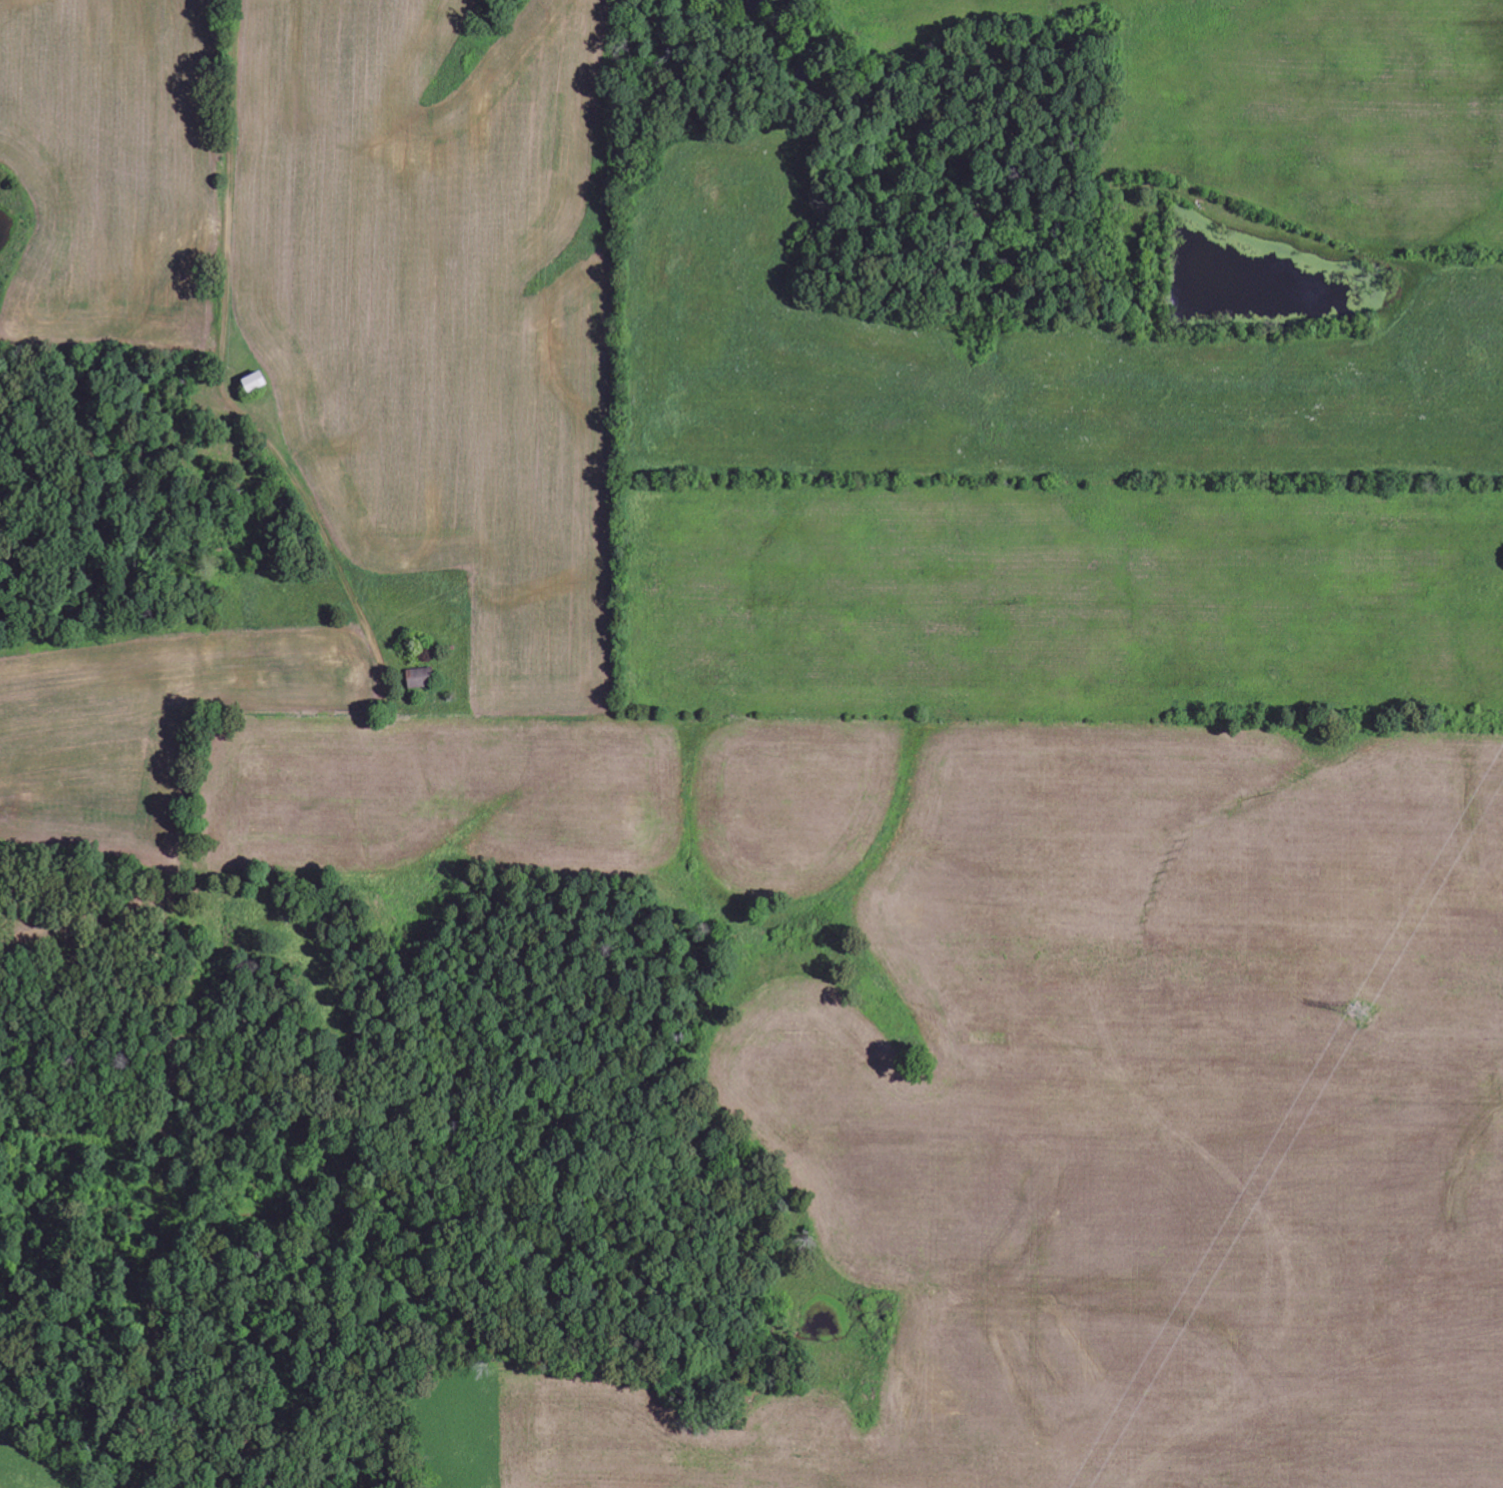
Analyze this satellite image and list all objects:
road: (203, 368)
building: (254, 381)
building: (420, 677)
power tower: (1363, 1015)

